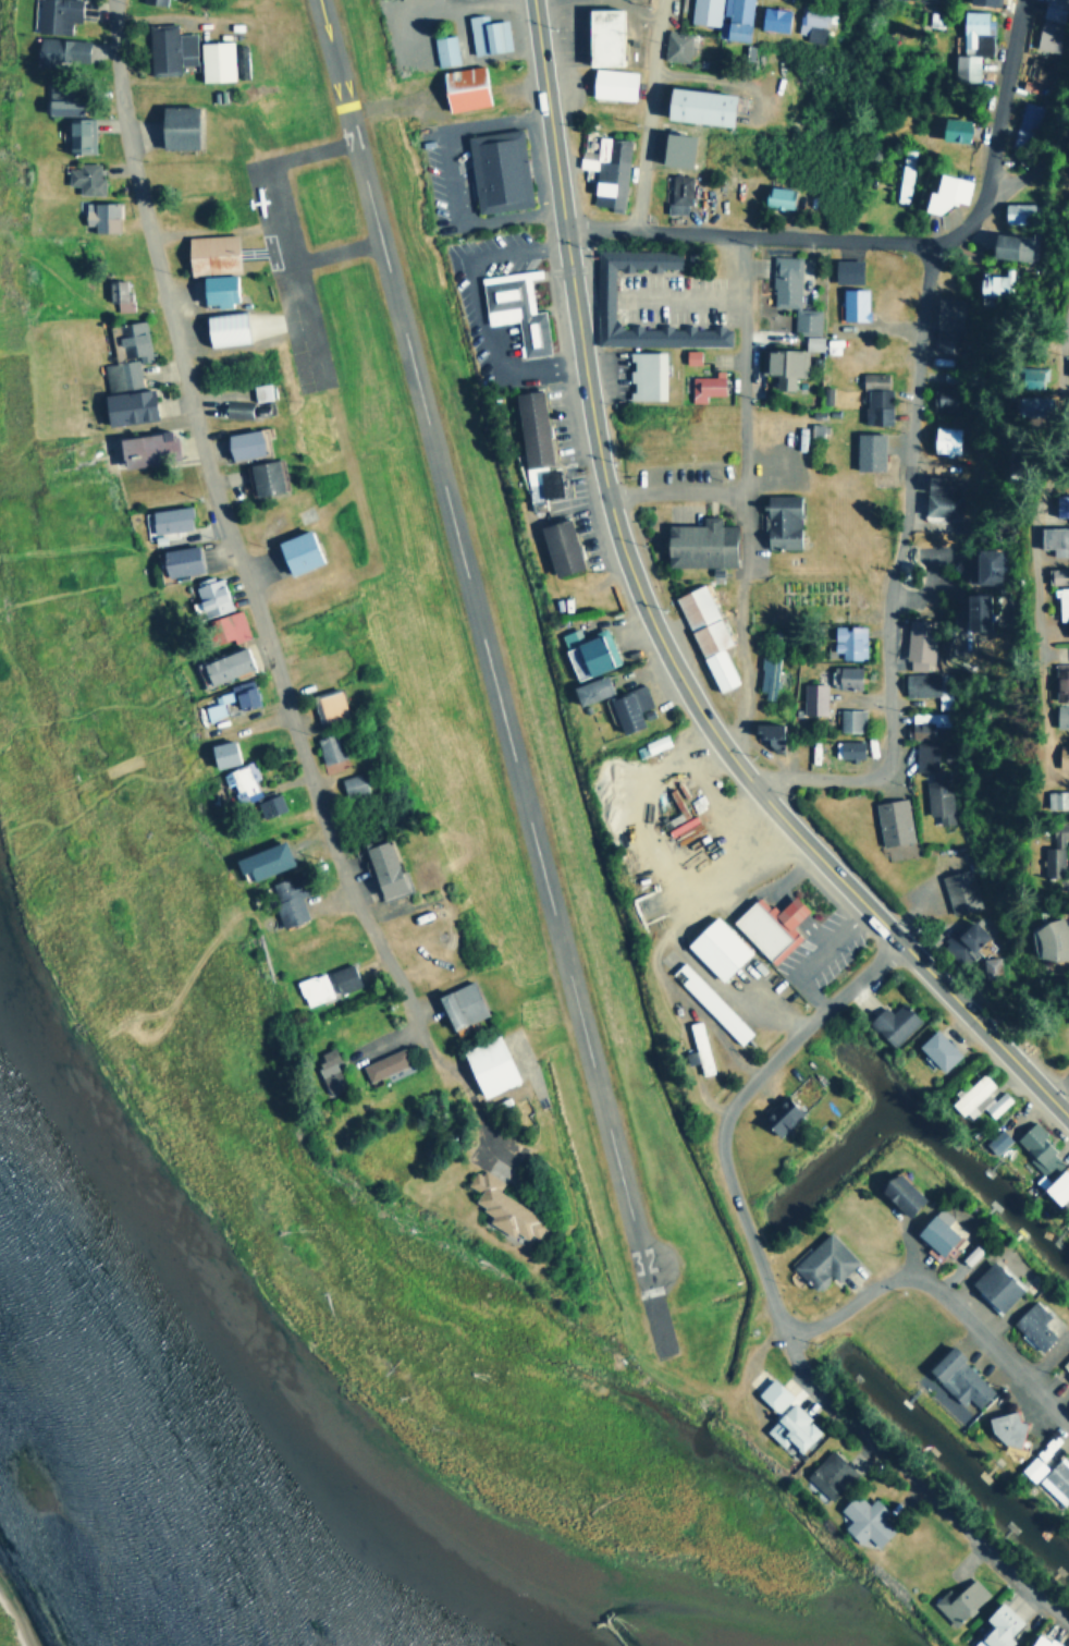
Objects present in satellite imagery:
building: (151, 1)
building: (703, 11)
building: (52, 14)
building: (734, 17)
building: (772, 17)
building: (812, 23)
building: (1049, 25)
building: (484, 33)
building: (599, 35)
building: (970, 45)
building: (167, 48)
building: (59, 49)
building: (442, 49)
building: (212, 59)
building: (1039, 69)
building: (611, 82)
building: (460, 86)
building: (60, 99)
building: (696, 103)
road: (650, 113)
building: (1027, 118)
building: (174, 125)
building: (953, 129)
building: (76, 134)
road: (1064, 138)
building: (673, 147)
building: (495, 169)
building: (605, 170)
building: (904, 174)
building: (83, 176)
road: (1016, 181)
building: (944, 191)
building: (677, 193)
building: (775, 196)
building: (1017, 211)
building: (98, 215)
airport taxiway: (280, 227)
road: (749, 234)
building: (1007, 245)
building: (208, 253)
airport taxiway: (335, 253)
building: (845, 269)
building: (994, 281)
building: (212, 288)
building: (789, 293)
building: (116, 294)
building: (601, 295)
building: (851, 303)
building: (513, 307)
building: (946, 322)
building: (221, 327)
building: (126, 339)
building: (689, 355)
building: (787, 361)
building: (1064, 364)
building: (643, 374)
building: (1023, 374)
building: (119, 375)
building: (871, 378)
building: (703, 386)
building: (259, 391)
building: (943, 397)
building: (1023, 403)
building: (874, 404)
building: (124, 405)
building: (528, 426)
building: (943, 438)
building: (239, 442)
road: (911, 446)
building: (143, 448)
building: (865, 450)
building: (1066, 462)
building: (260, 475)
building: (545, 481)
road: (671, 489)
building: (937, 496)
road: (737, 503)
building: (1055, 503)
building: (167, 519)
building: (777, 520)
road: (1024, 529)
building: (1047, 538)
building: (696, 542)
building: (556, 546)
building: (294, 551)
building: (177, 560)
building: (975, 565)
airport: (415, 569)
building: (1049, 574)
road: (247, 586)
building: (209, 594)
building: (1058, 606)
building: (969, 610)
building: (223, 626)
road: (653, 629)
building: (703, 633)
airport runway: (484, 639)
building: (847, 639)
building: (917, 642)
building: (585, 650)
building: (219, 666)
building: (843, 675)
building: (765, 676)
building: (1056, 678)
building: (924, 684)
building: (587, 688)
building: (230, 697)
building: (811, 697)
building: (325, 705)
building: (624, 707)
building: (1055, 716)
building: (848, 719)
building: (926, 726)
building: (765, 732)
building: (653, 742)
building: (324, 746)
building: (846, 748)
building: (219, 752)
building: (923, 755)
building: (1058, 755)
building: (238, 781)
building: (349, 782)
building: (937, 798)
building: (1053, 798)
building: (267, 805)
building: (890, 820)
building: (1048, 849)
building: (260, 859)
building: (381, 868)
building: (959, 889)
building: (284, 899)
building: (767, 925)
building: (1043, 940)
building: (714, 948)
building: (988, 965)
building: (342, 977)
building: (311, 987)
building: (708, 1002)
building: (457, 1004)
building: (889, 1022)
building: (696, 1048)
building: (935, 1049)
building: (382, 1063)
building: (486, 1064)
building: (327, 1070)
road: (1062, 1084)
building: (995, 1102)
building: (778, 1114)
building: (994, 1141)
building: (1036, 1151)
building: (1055, 1186)
building: (897, 1193)
building: (501, 1207)
building: (1068, 1219)
building: (934, 1231)
building: (821, 1263)
building: (992, 1287)
road: (774, 1298)
road: (943, 1300)
building: (1031, 1325)
building: (1065, 1363)
building: (956, 1377)
building: (1067, 1377)
building: (771, 1394)
building: (790, 1427)
building: (1004, 1428)
building: (1030, 1467)
river: (209, 1470)
building: (827, 1474)
building: (1056, 1480)
building: (862, 1519)
building: (957, 1600)
building: (995, 1626)
building: (1037, 1641)

